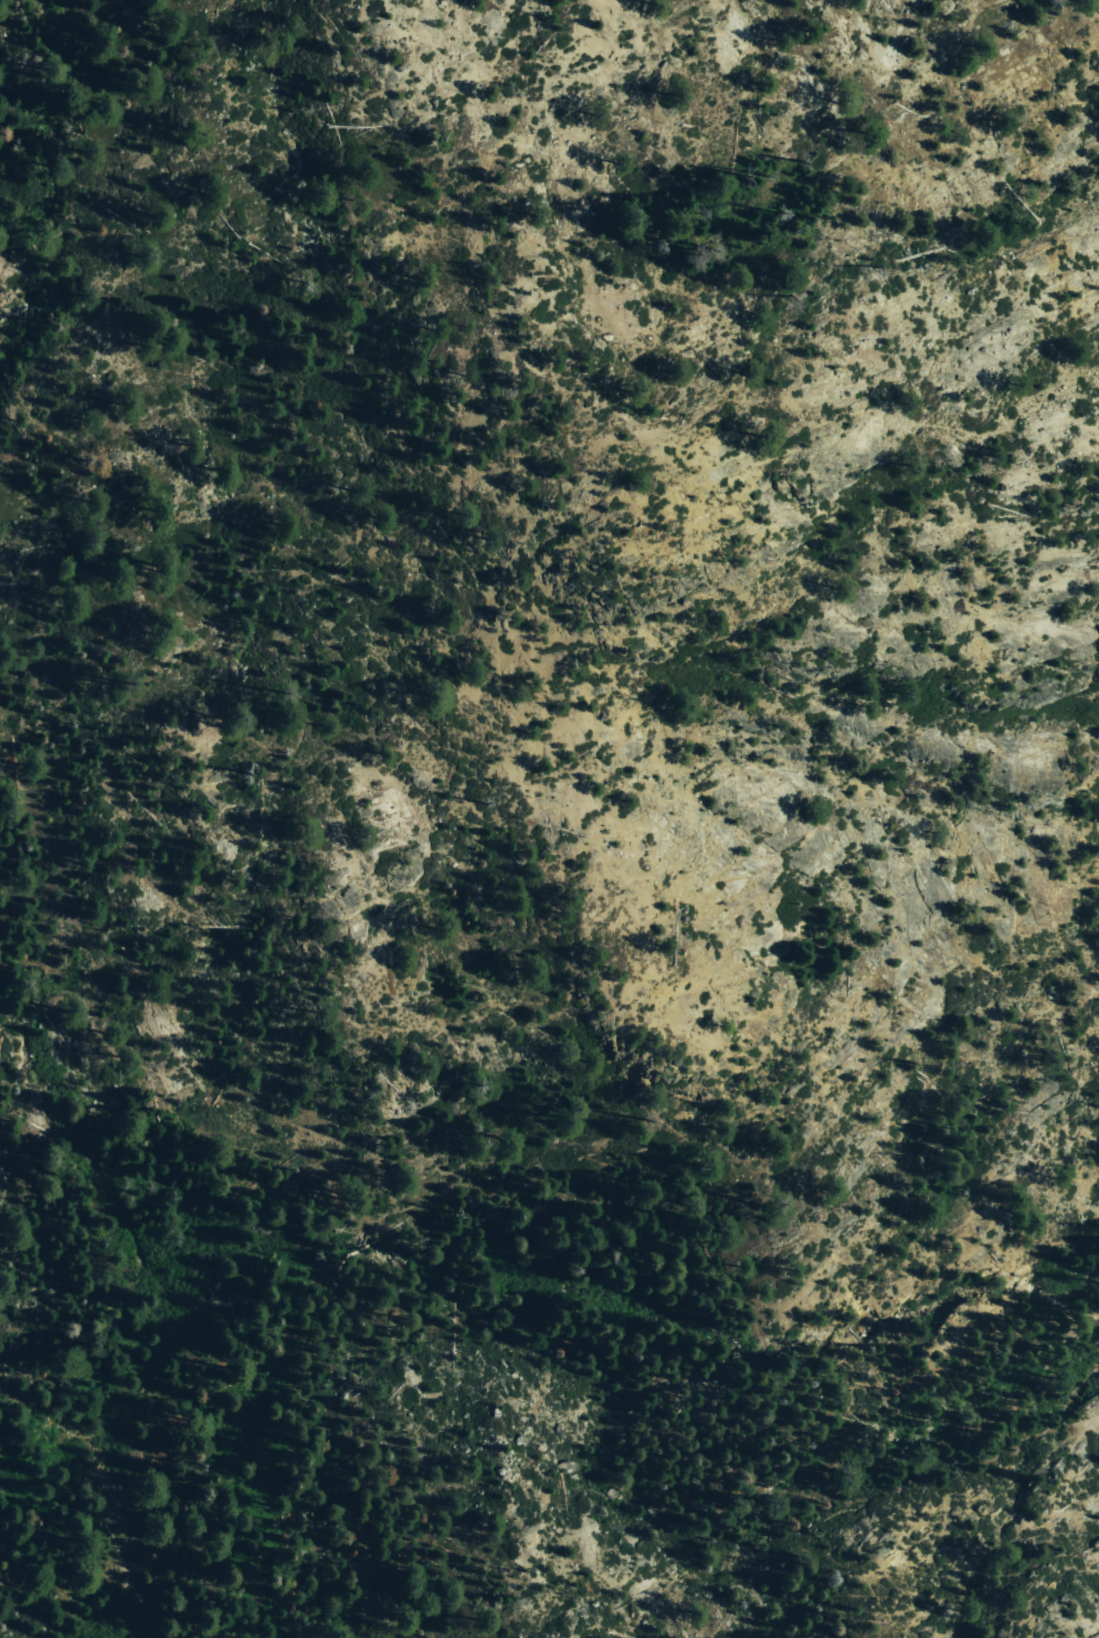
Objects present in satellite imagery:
road: (553, 1344)

